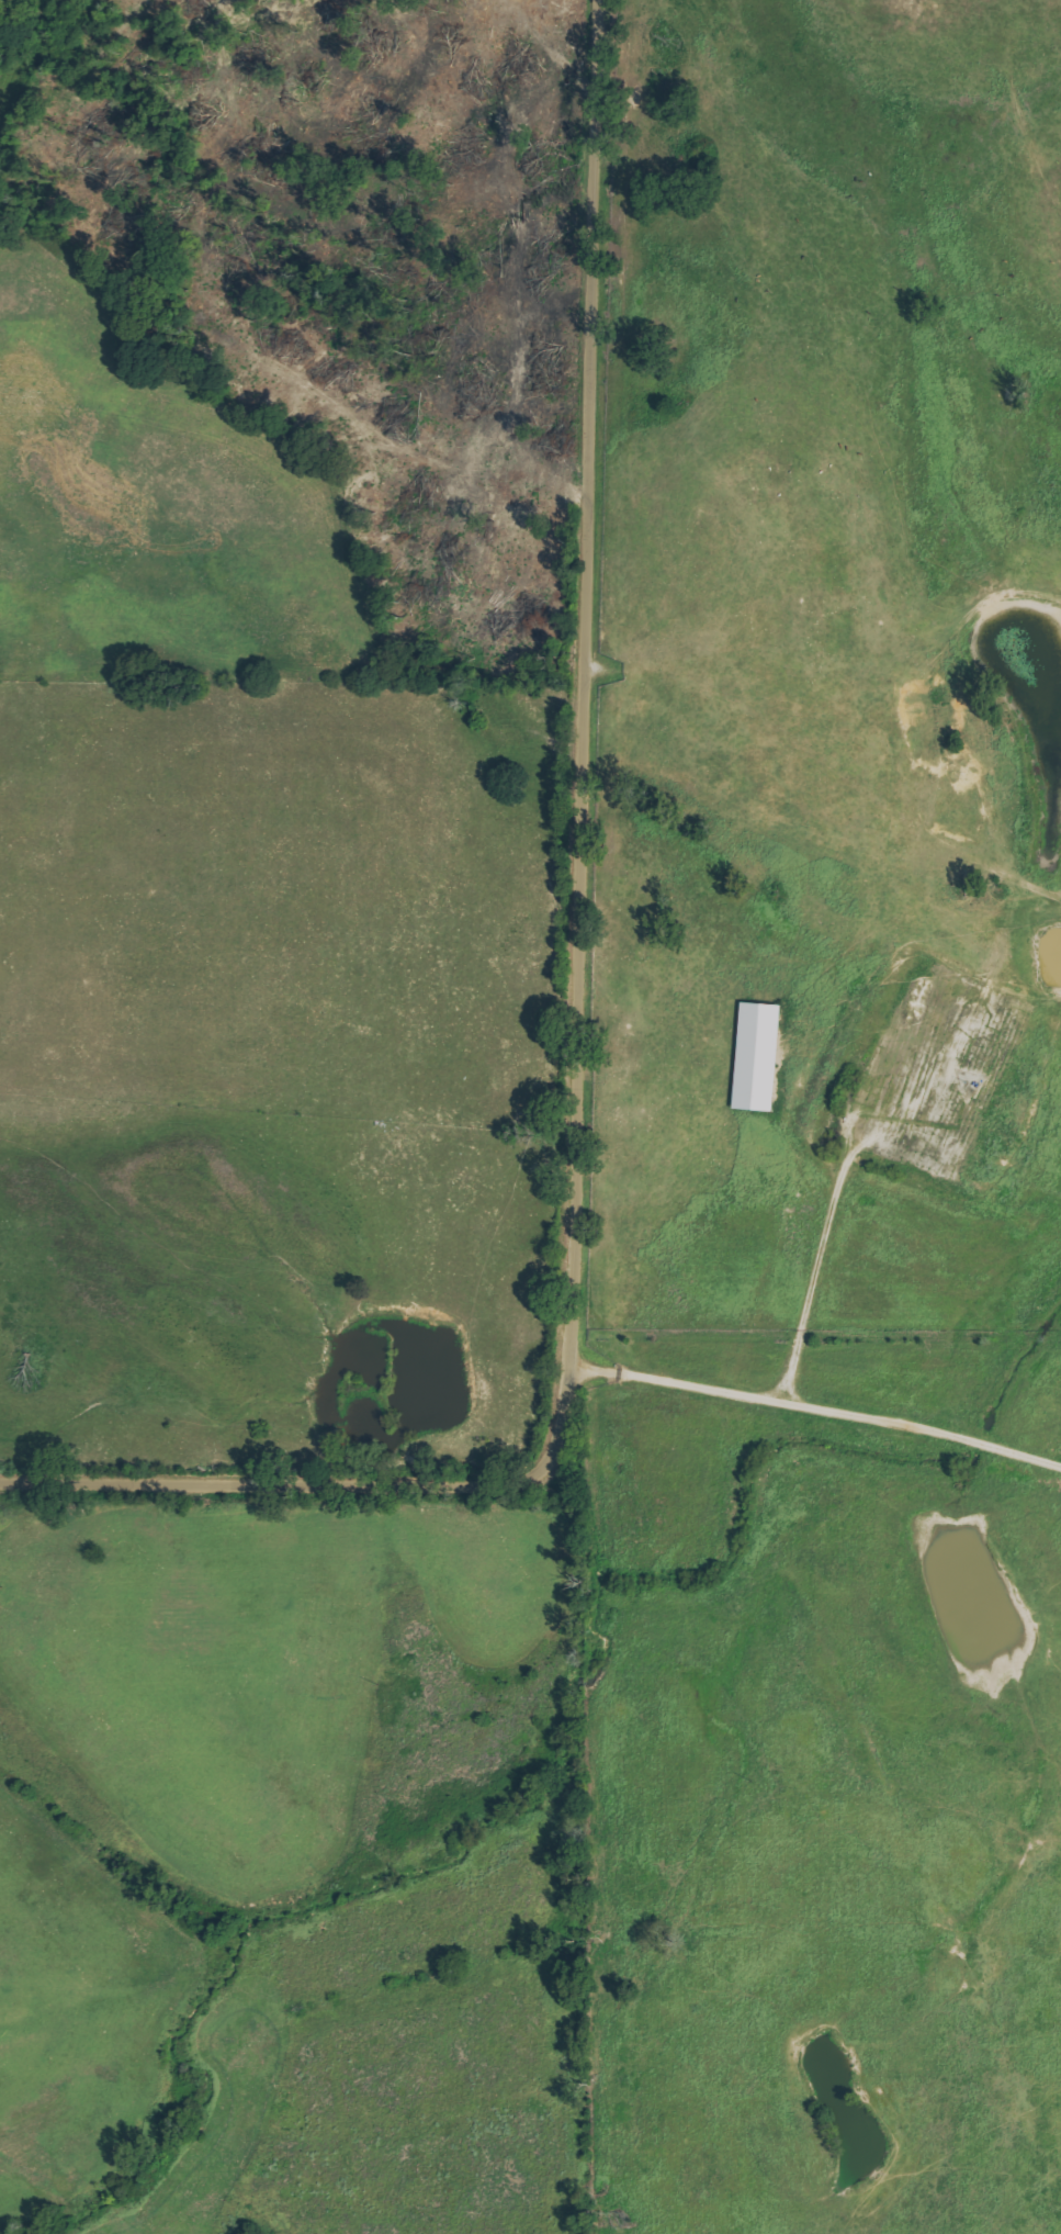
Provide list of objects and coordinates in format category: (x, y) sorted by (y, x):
road: (575, 1010)
building: (759, 1057)
road: (814, 1407)

